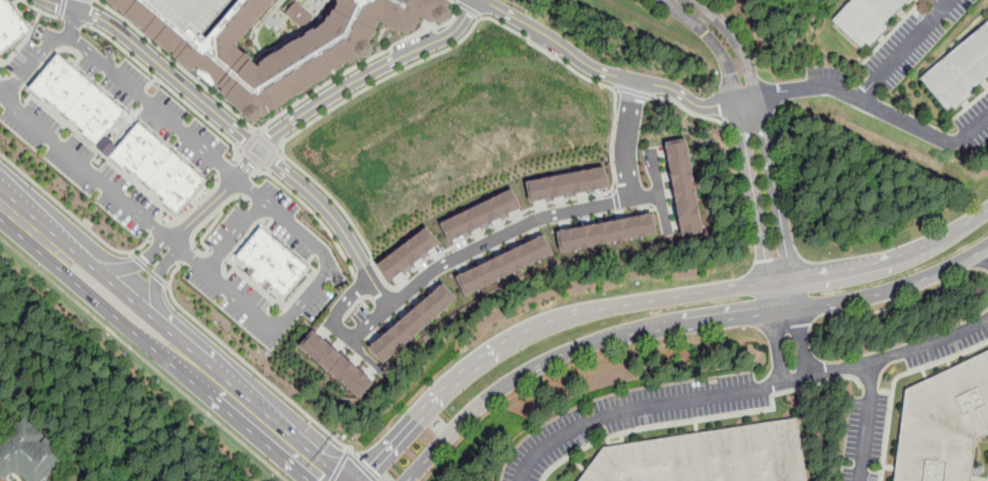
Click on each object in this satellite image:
road: (99, 1)
road: (468, 9)
parking garage: (187, 14)
building: (868, 19)
road: (72, 24)
building: (10, 27)
building: (283, 27)
park: (283, 27)
road: (906, 48)
building: (311, 59)
road: (411, 66)
building: (960, 69)
road: (607, 72)
road: (804, 88)
road: (634, 92)
building: (76, 102)
road: (167, 117)
road: (277, 117)
road: (284, 126)
road: (237, 130)
road: (925, 131)
road: (625, 140)
road: (754, 142)
road: (85, 168)
building: (156, 170)
building: (566, 184)
road: (248, 185)
building: (682, 186)
road: (659, 191)
road: (615, 198)
road: (313, 213)
building: (478, 215)
road: (72, 216)
road: (20, 222)
road: (203, 222)
road: (157, 229)
road: (234, 233)
building: (604, 233)
road: (987, 248)
building: (407, 254)
road: (187, 255)
road: (216, 255)
road: (189, 256)
road: (451, 259)
building: (271, 264)
building: (502, 265)
road: (149, 270)
road: (813, 275)
road: (118, 289)
road: (106, 306)
building: (411, 324)
road: (678, 325)
road: (273, 329)
road: (790, 345)
road: (893, 355)
road: (143, 359)
road: (472, 360)
road: (246, 363)
building: (336, 365)
road: (893, 379)
road: (645, 405)
road: (256, 418)
road: (692, 420)
road: (868, 422)
building: (946, 425)
building: (29, 453)
building: (706, 456)
traffic signals: (368, 465)
road: (340, 466)
road: (362, 466)
traffic signals: (322, 477)
road: (987, 480)

